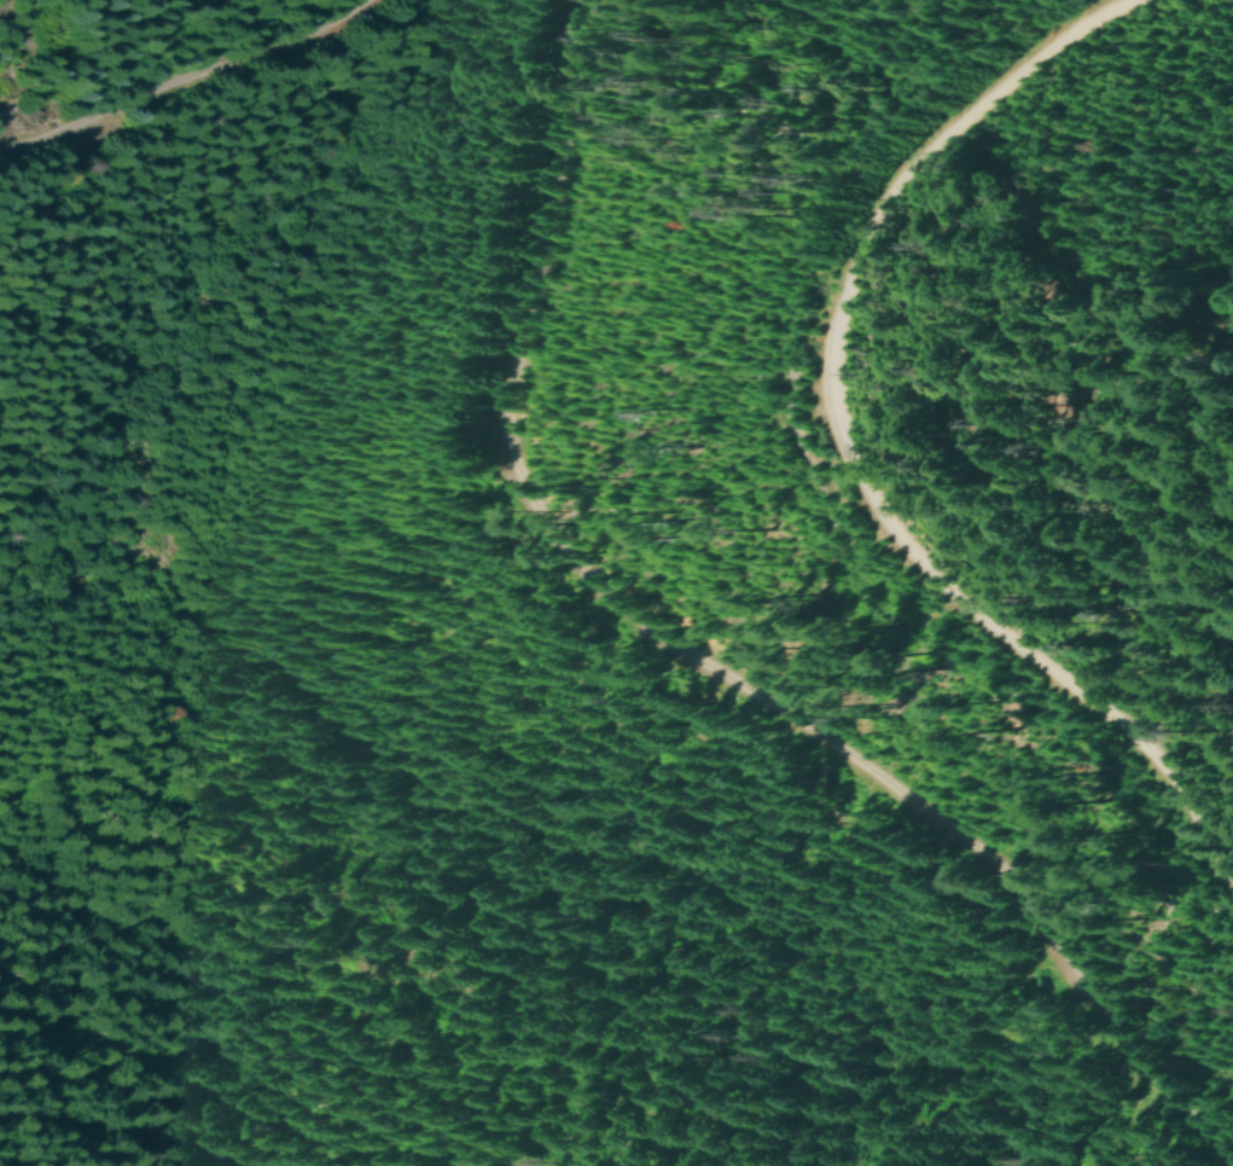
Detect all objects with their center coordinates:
road: (175, 86)
road: (848, 454)
road: (693, 660)

